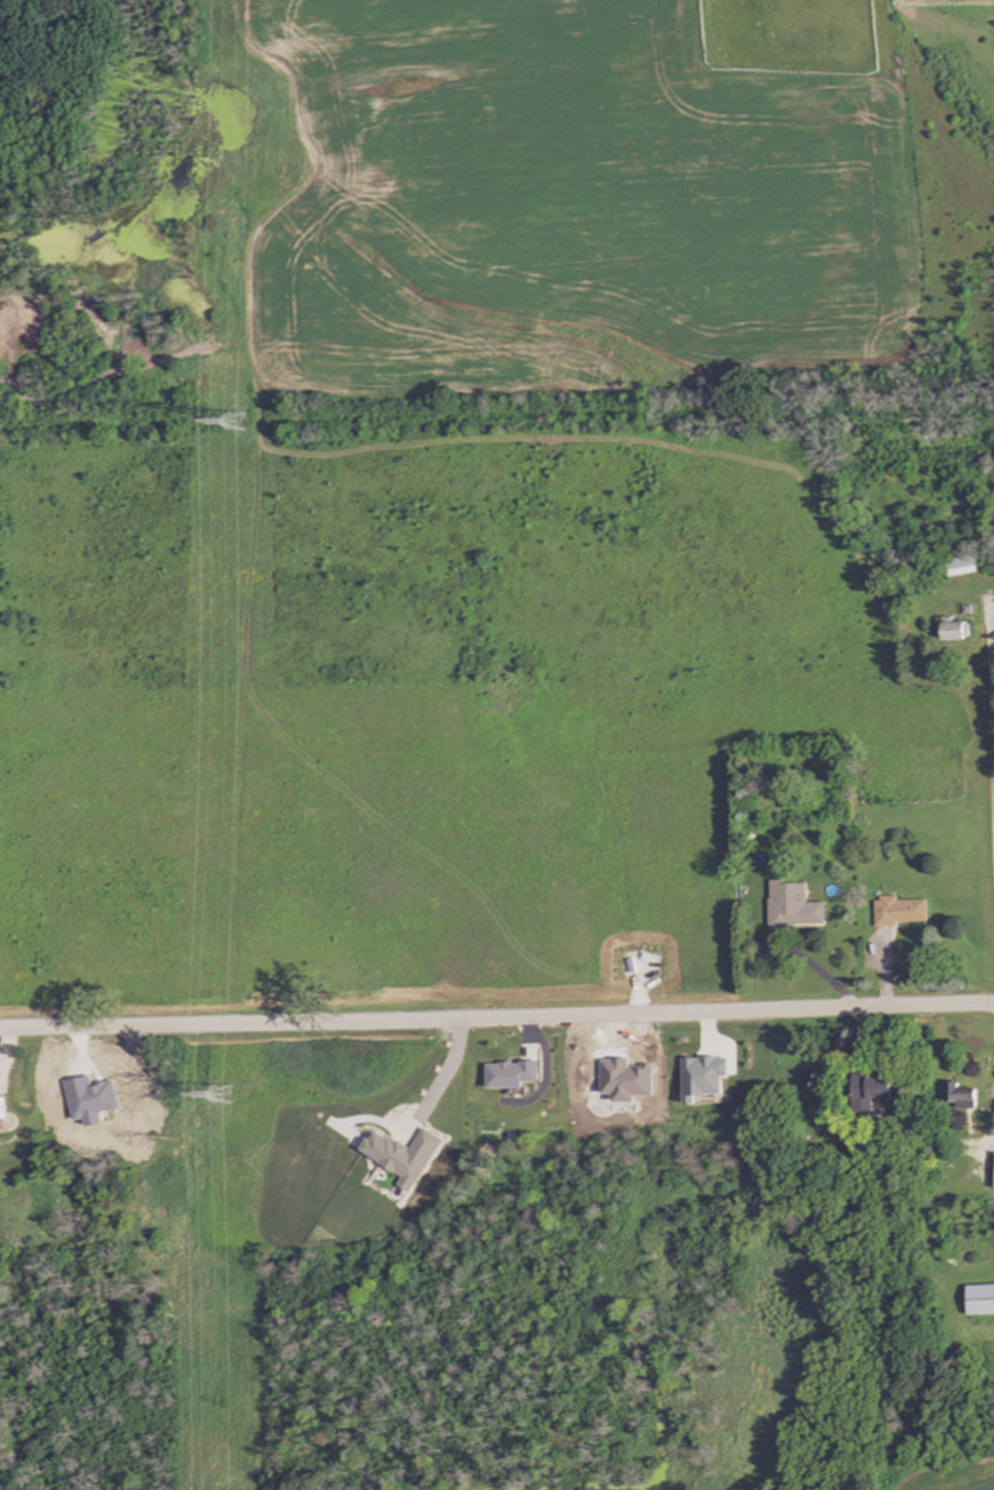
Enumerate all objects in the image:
power tower: (237, 422)
building: (961, 567)
building: (954, 633)
road: (992, 699)
building: (901, 913)
building: (796, 915)
road: (818, 971)
road: (497, 1020)
road: (442, 1074)
building: (870, 1092)
power tower: (221, 1093)
building: (958, 1098)
building: (5, 1109)
road: (991, 1131)
building: (980, 1302)
crop: (948, 1479)

